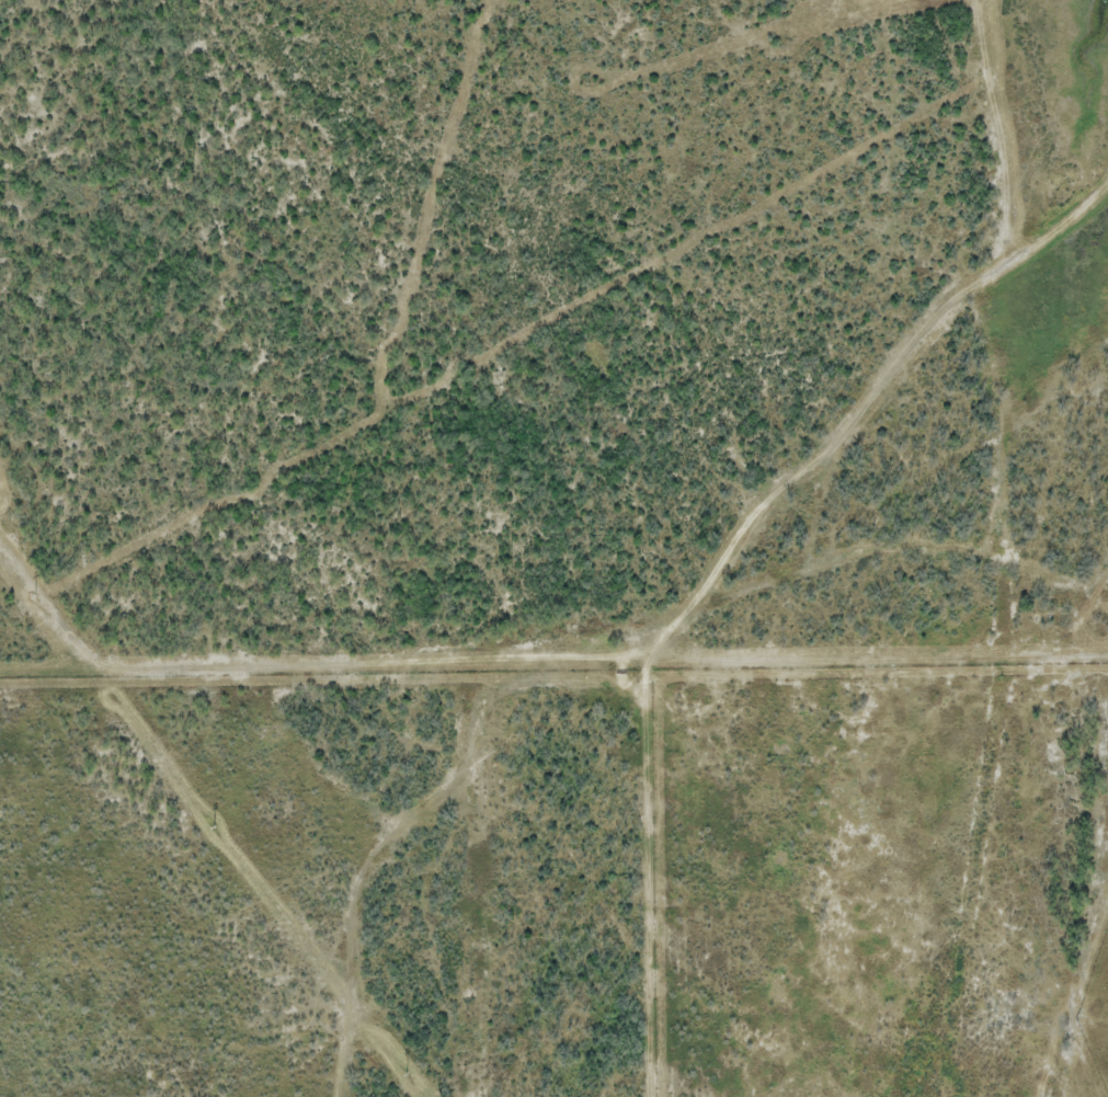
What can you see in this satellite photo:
power tower: (34, 597)
power tower: (215, 826)
power tower: (407, 1072)

